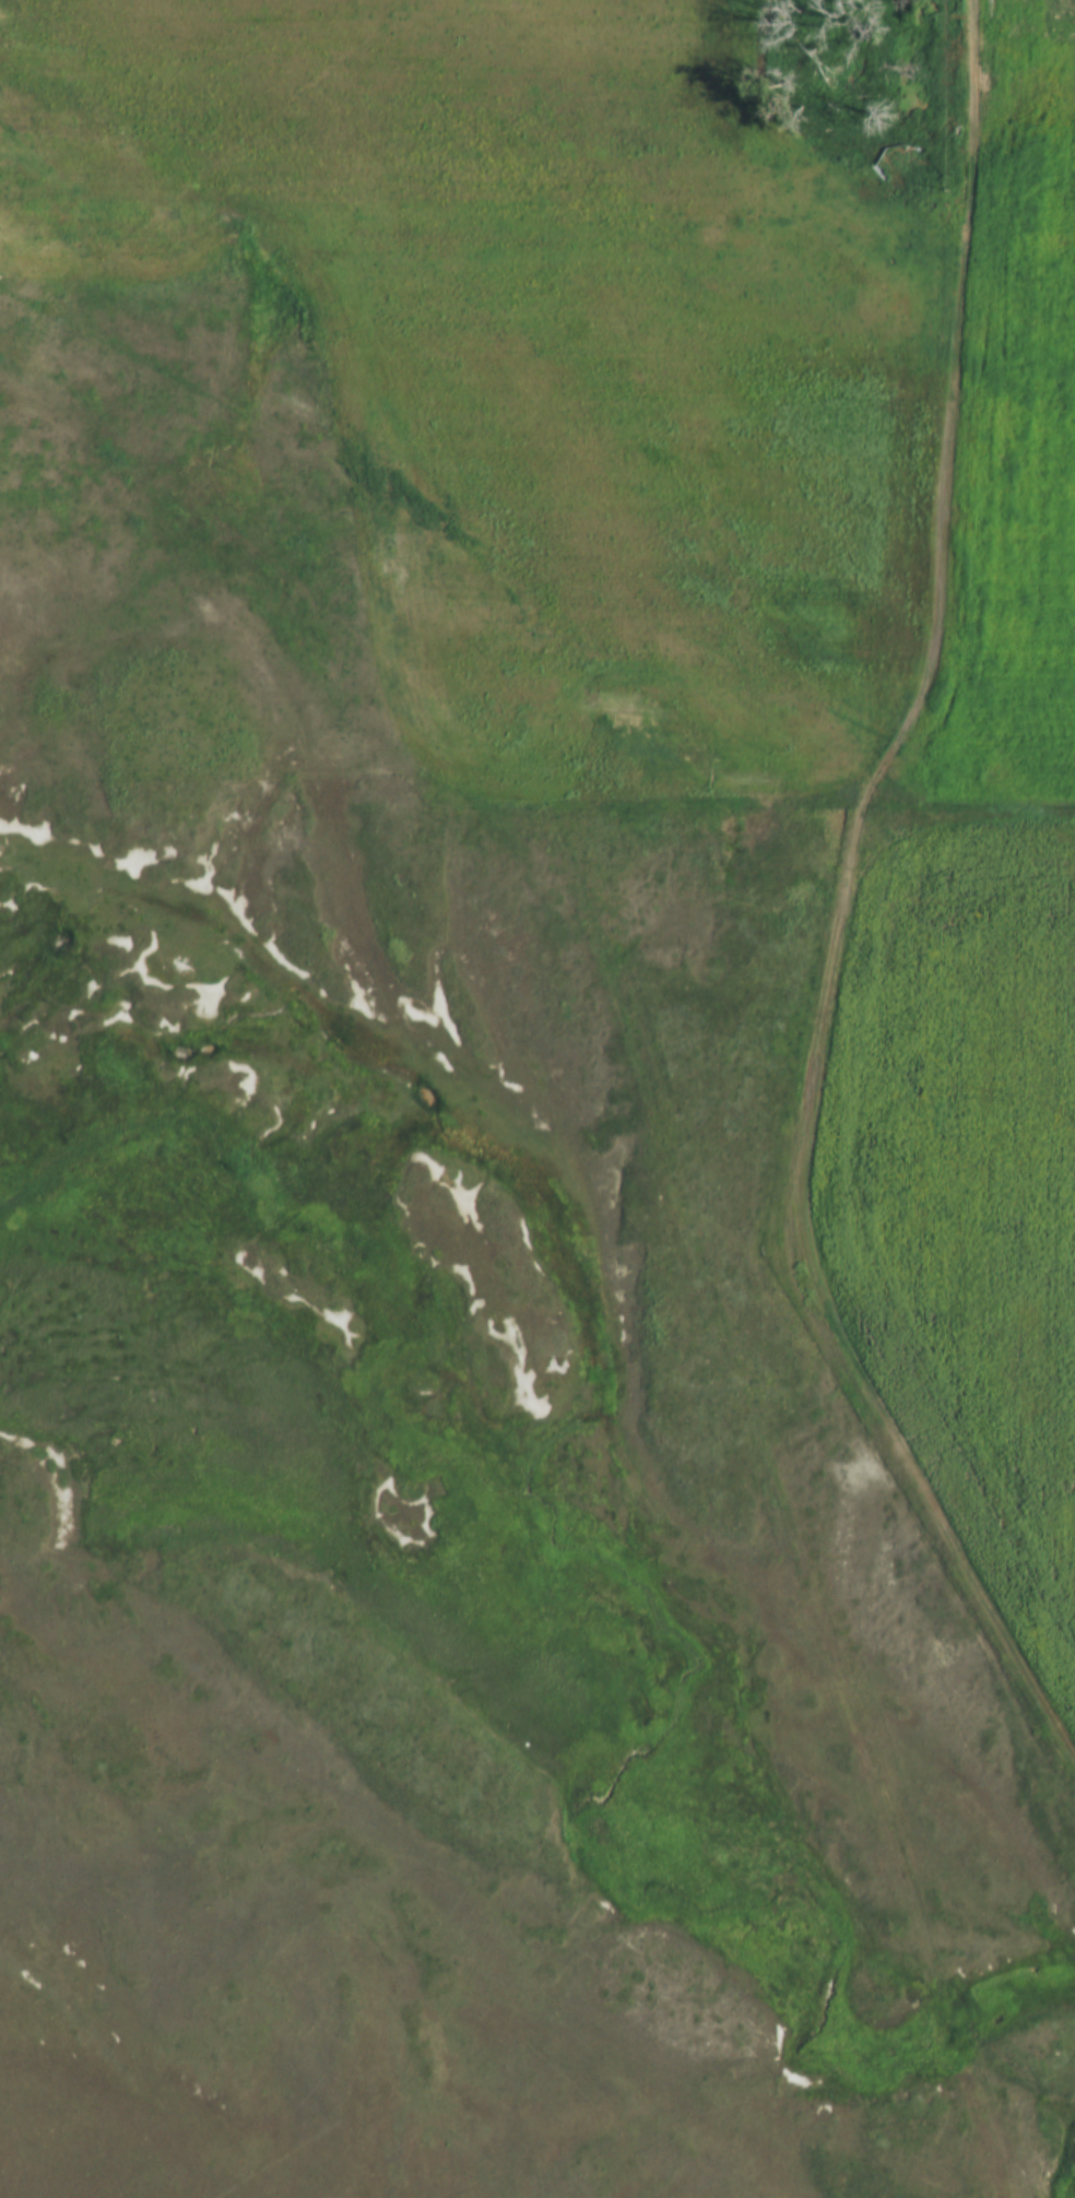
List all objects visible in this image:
road: (847, 906)

